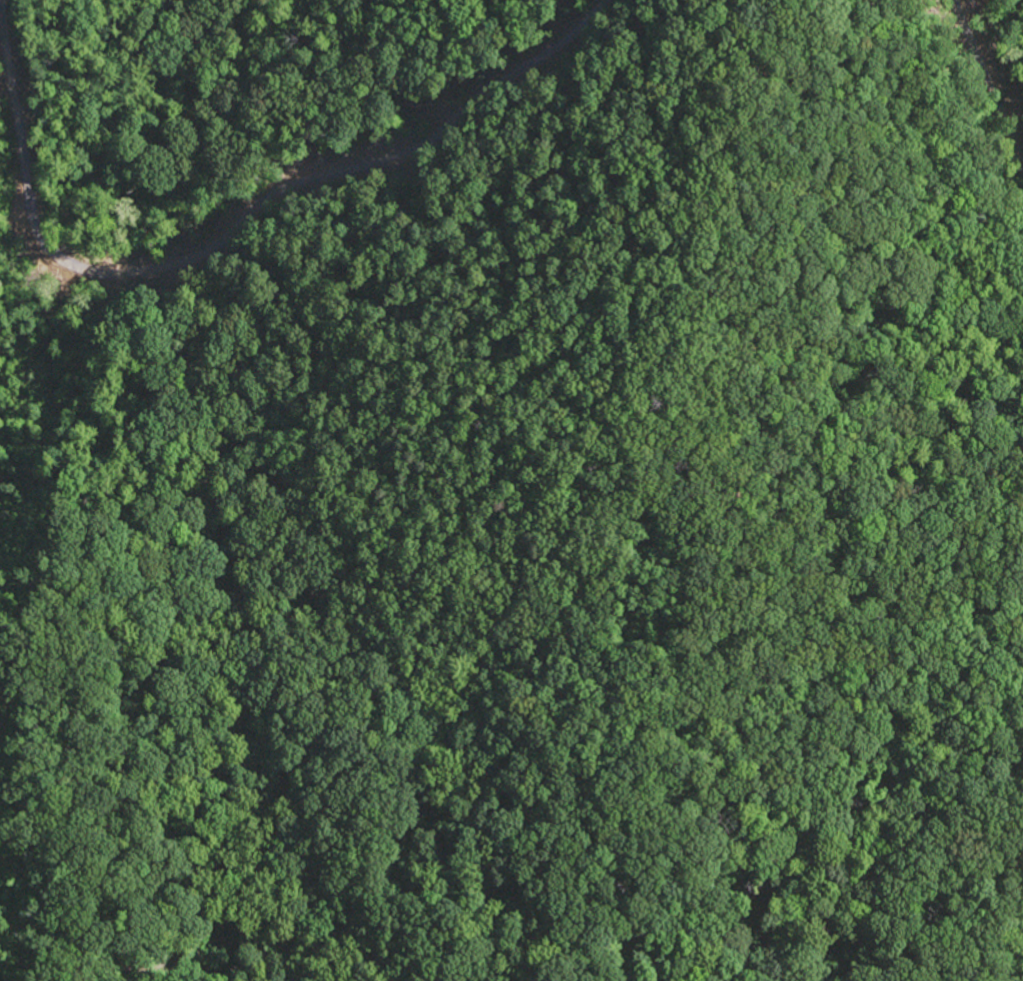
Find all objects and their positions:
road: (941, 130)

